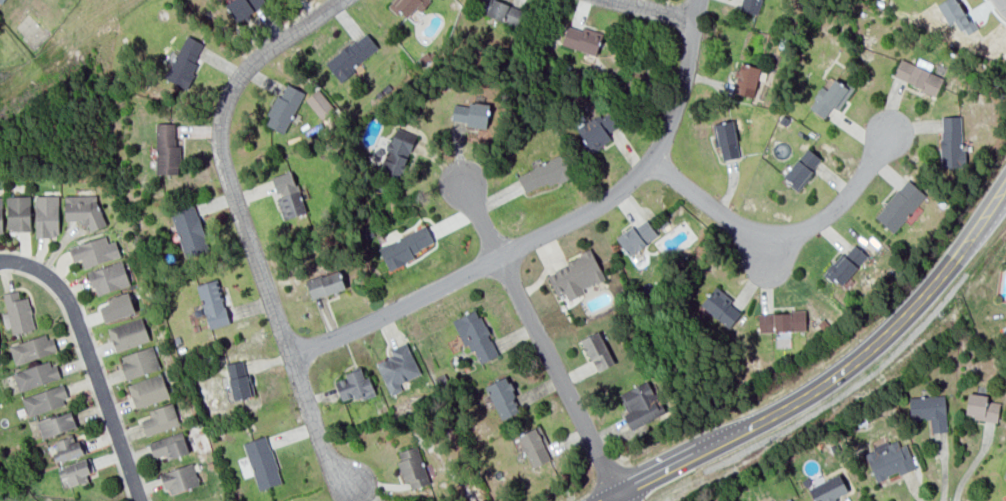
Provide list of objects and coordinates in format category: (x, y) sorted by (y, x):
building: (0, 0)
road: (1003, 2)
building: (408, 5)
building: (749, 5)
building: (242, 7)
road: (653, 9)
building: (499, 10)
building: (581, 39)
building: (350, 55)
building: (424, 57)
building: (183, 63)
building: (917, 74)
building: (745, 79)
building: (386, 87)
building: (379, 93)
building: (830, 96)
building: (319, 103)
building: (283, 107)
building: (470, 112)
building: (783, 119)
building: (597, 130)
building: (726, 139)
building: (951, 141)
building: (166, 148)
building: (396, 151)
building: (801, 167)
building: (545, 173)
building: (287, 194)
building: (899, 204)
building: (83, 210)
building: (18, 212)
building: (46, 214)
building: (0, 216)
road: (249, 228)
building: (366, 230)
building: (189, 231)
road: (555, 231)
building: (636, 236)
road: (782, 236)
building: (404, 246)
building: (94, 250)
building: (844, 264)
building: (576, 275)
building: (108, 277)
building: (324, 284)
building: (212, 303)
building: (117, 306)
building: (720, 306)
building: (17, 312)
building: (781, 321)
building: (823, 324)
building: (127, 334)
building: (475, 334)
road: (542, 334)
building: (32, 348)
building: (597, 350)
building: (216, 355)
road: (89, 361)
building: (139, 361)
building: (397, 367)
building: (35, 375)
building: (238, 379)
building: (440, 379)
road: (827, 379)
building: (354, 385)
building: (147, 390)
building: (502, 397)
building: (44, 399)
building: (640, 403)
building: (981, 406)
building: (928, 410)
building: (160, 419)
building: (861, 421)
building: (55, 423)
building: (534, 445)
building: (169, 446)
building: (68, 448)
building: (889, 459)
building: (261, 462)
building: (209, 463)
building: (411, 466)
building: (76, 471)
building: (1005, 472)
building: (180, 478)
building: (828, 489)
road: (623, 495)
building: (788, 500)

